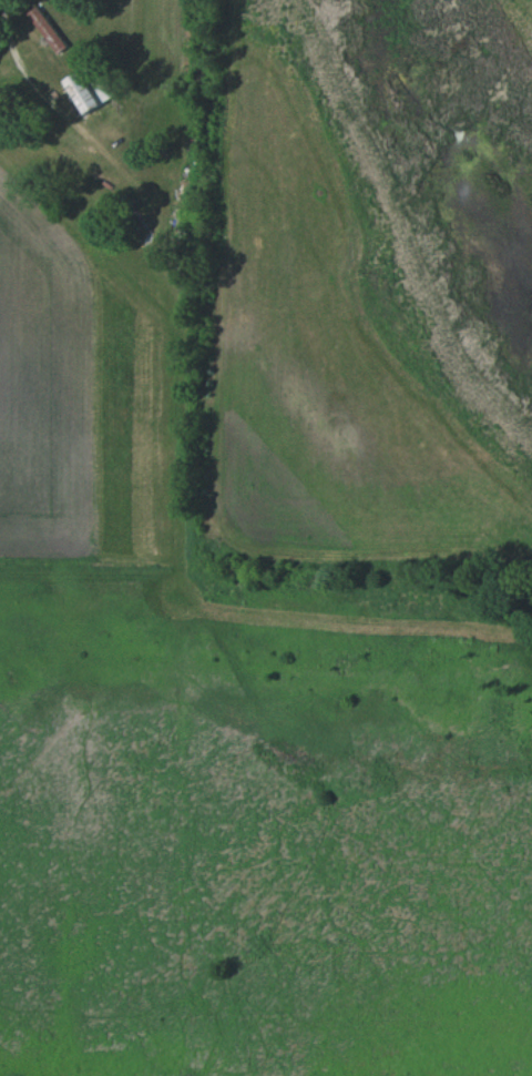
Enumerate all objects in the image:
building: (47, 30)
building: (79, 93)

